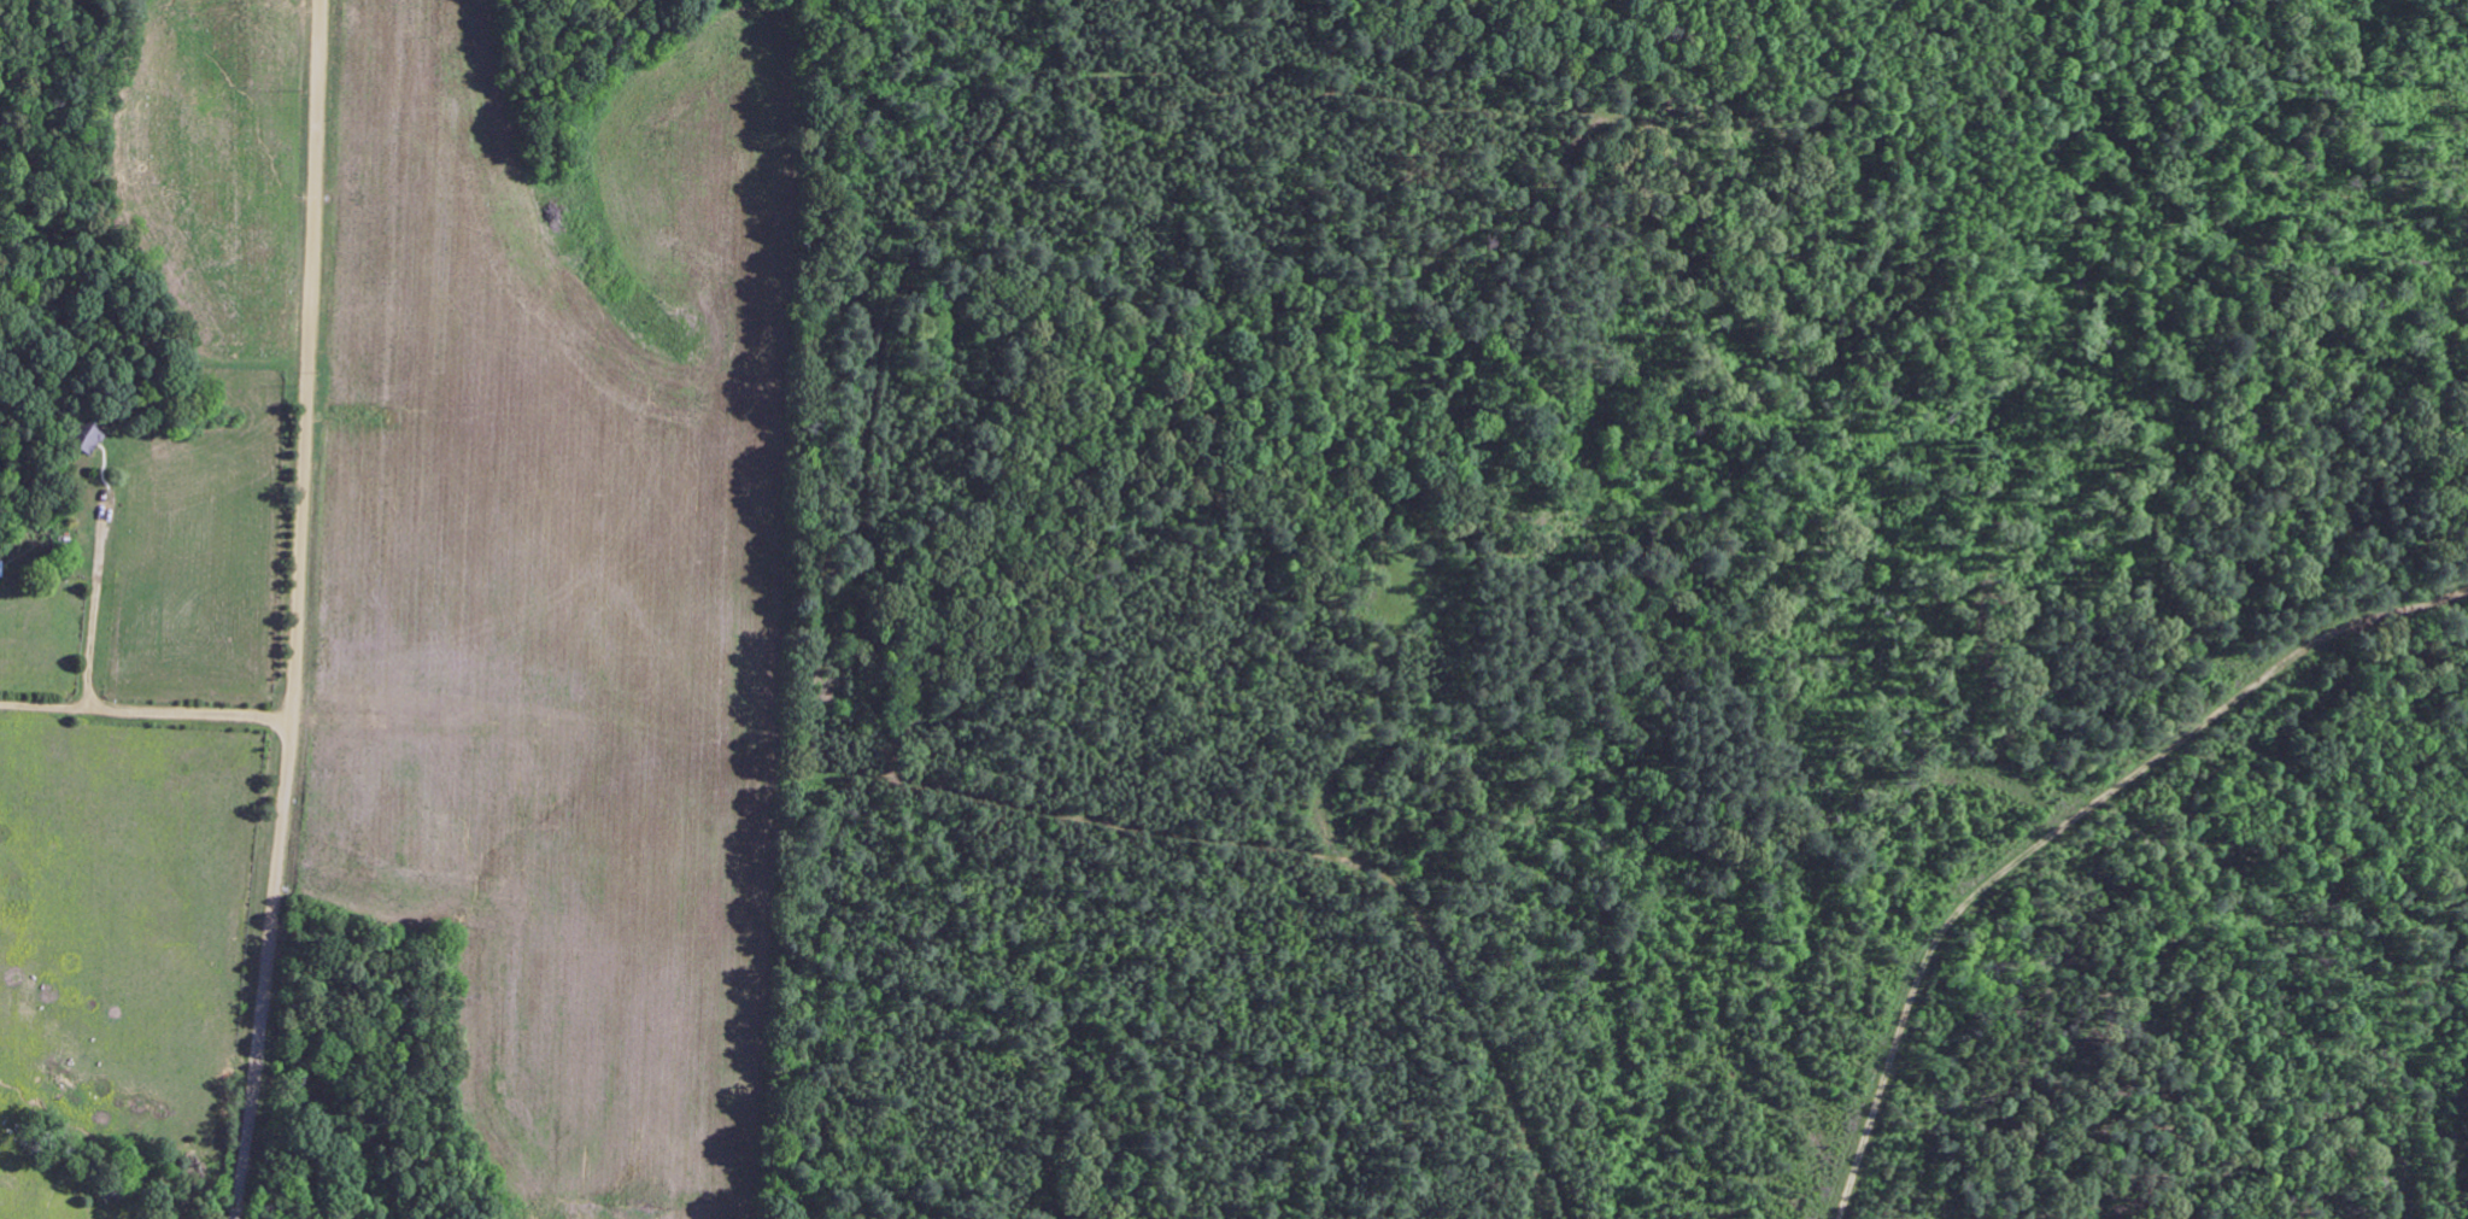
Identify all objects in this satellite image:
building: (83, 439)
road: (194, 715)
road: (265, 969)

